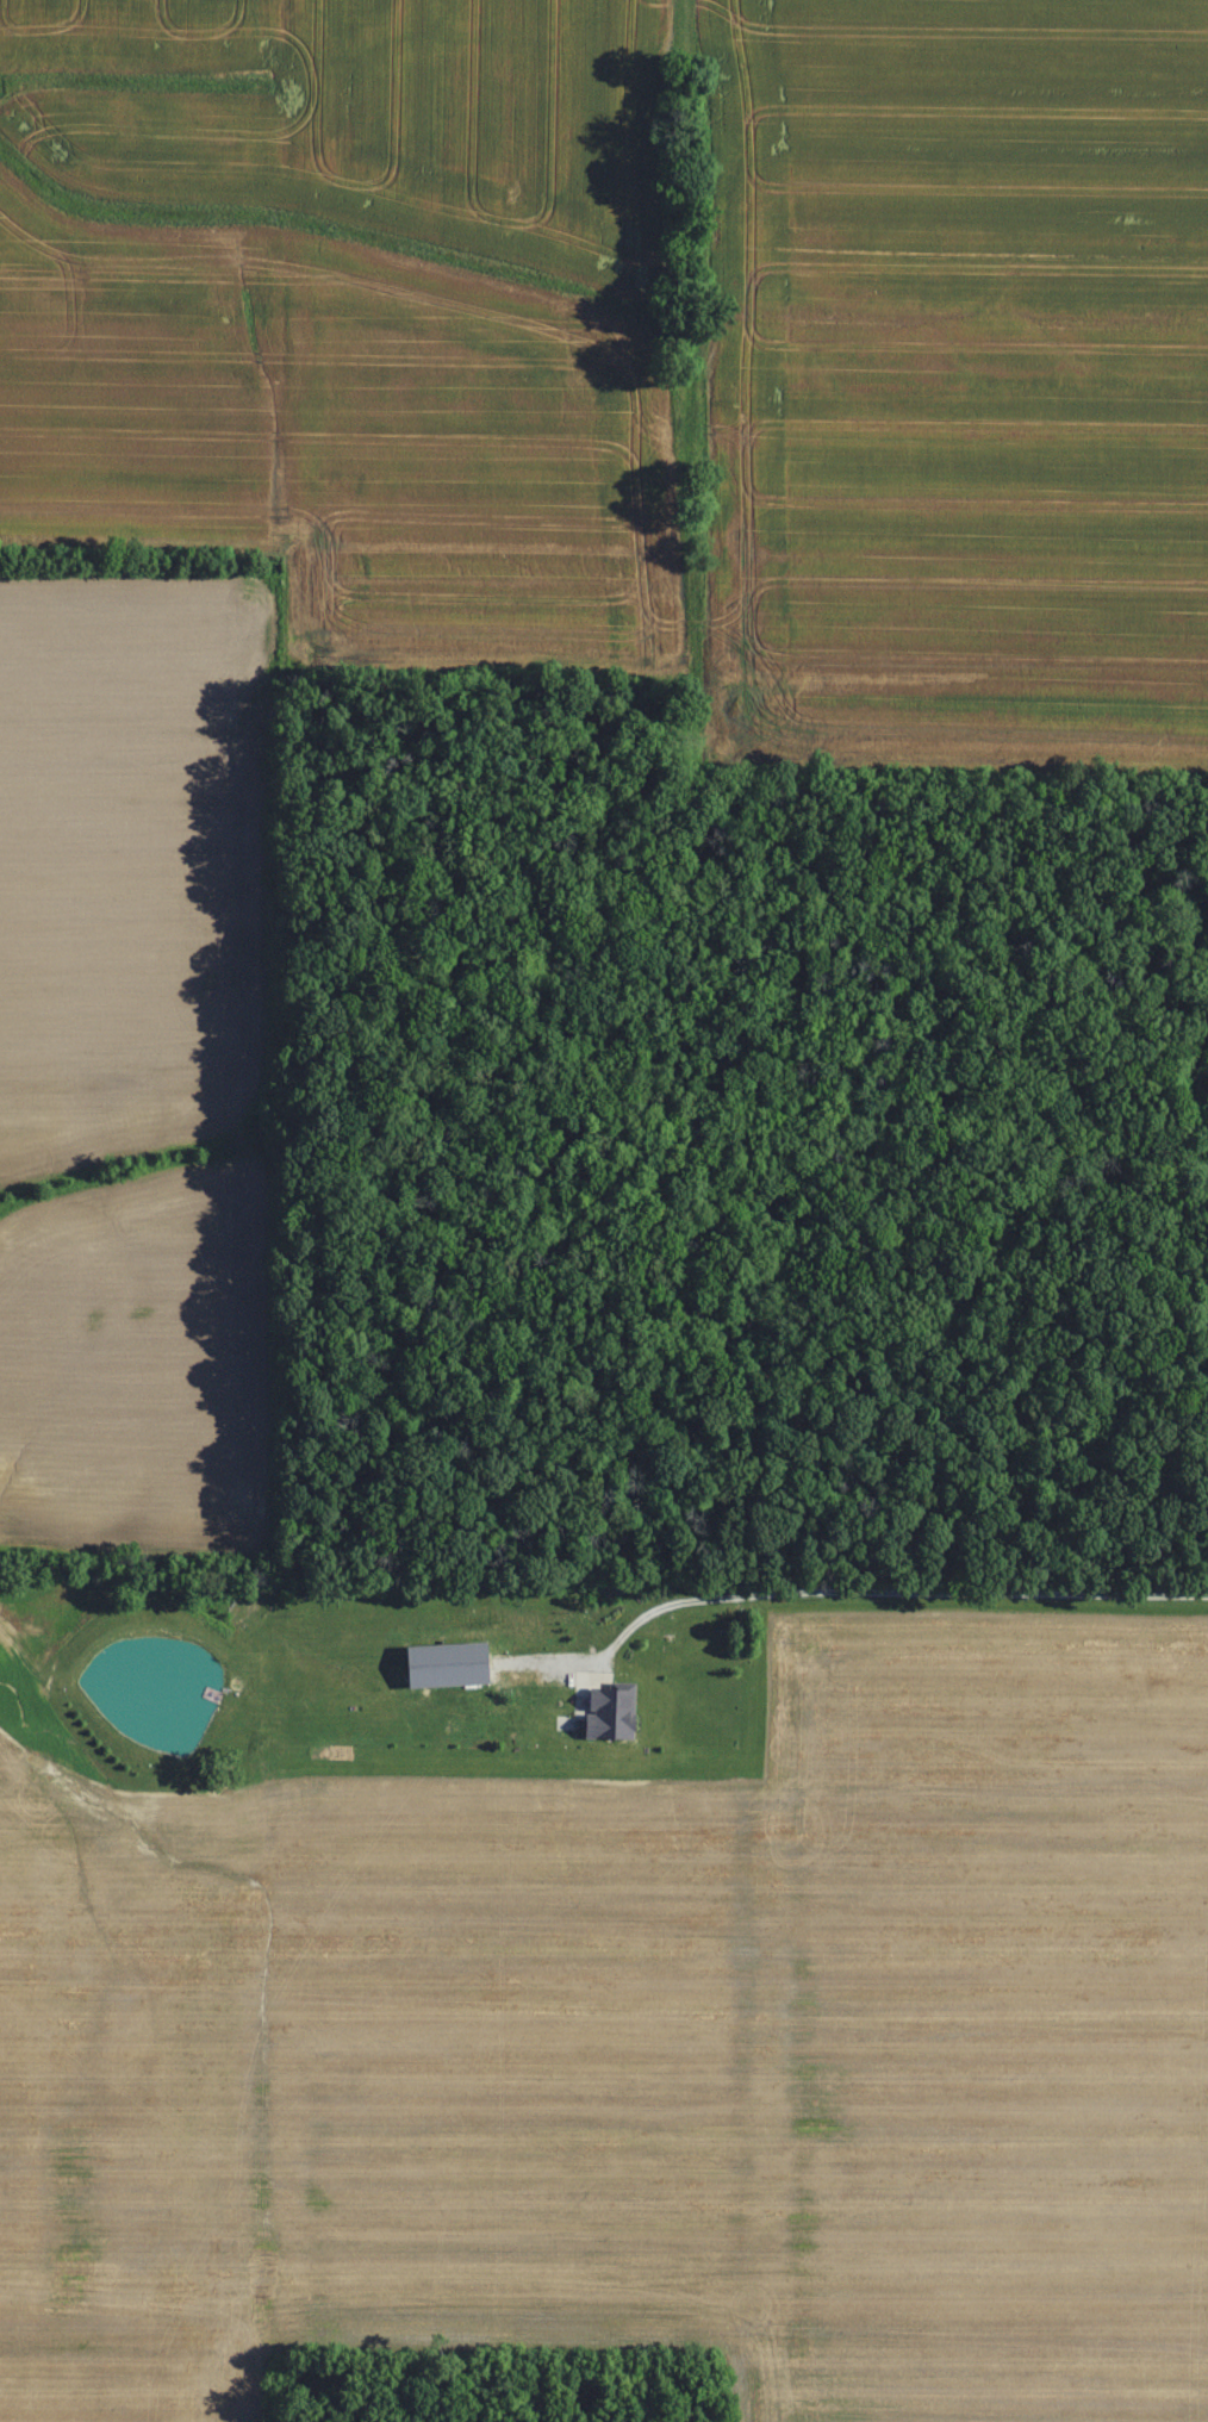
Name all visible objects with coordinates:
road: (891, 1590)
building: (454, 1663)
pier: (212, 1694)
building: (616, 1712)

